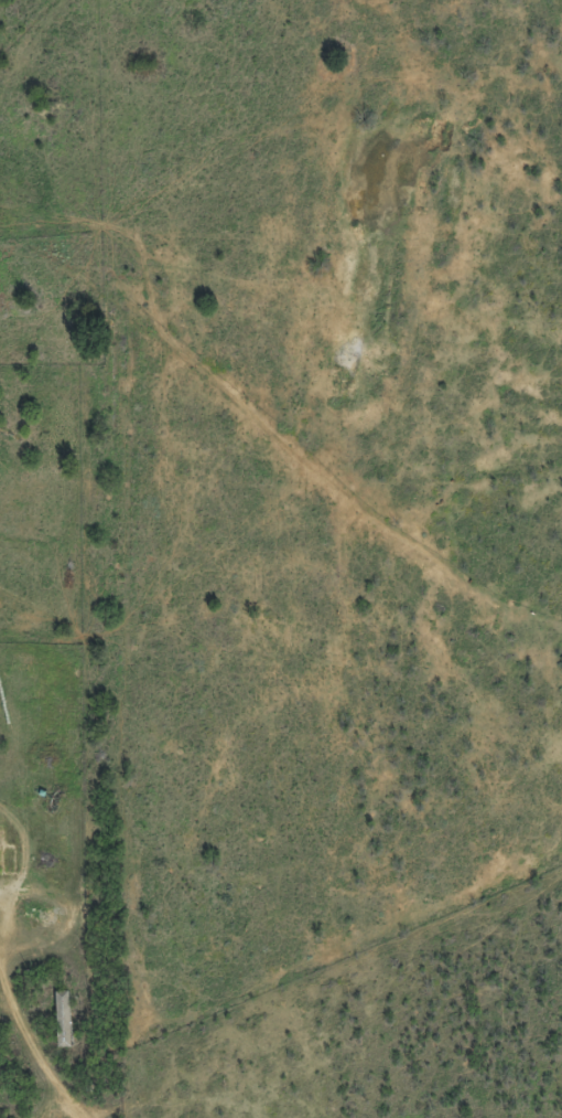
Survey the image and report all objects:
building: (61, 1028)
road: (29, 1046)

